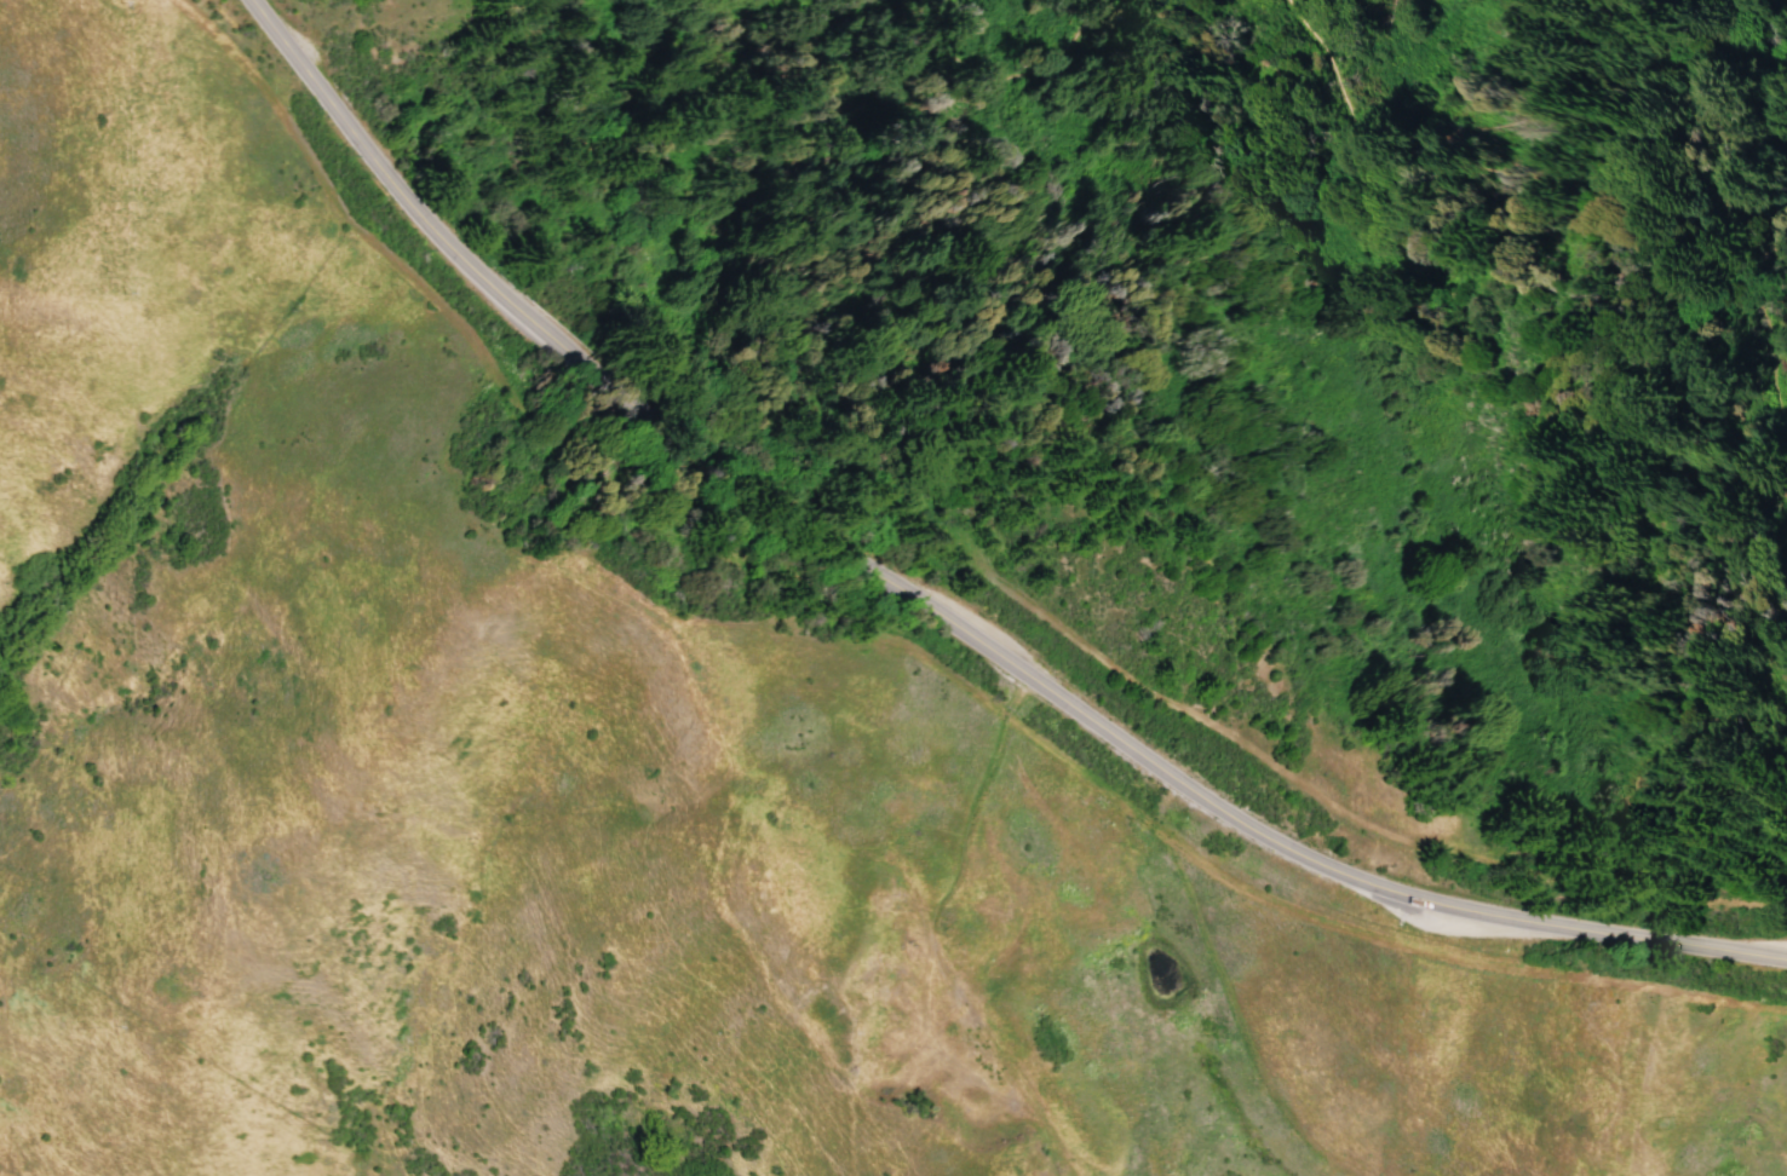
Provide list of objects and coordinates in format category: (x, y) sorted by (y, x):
road: (886, 81)
road: (1571, 114)
road: (943, 613)

